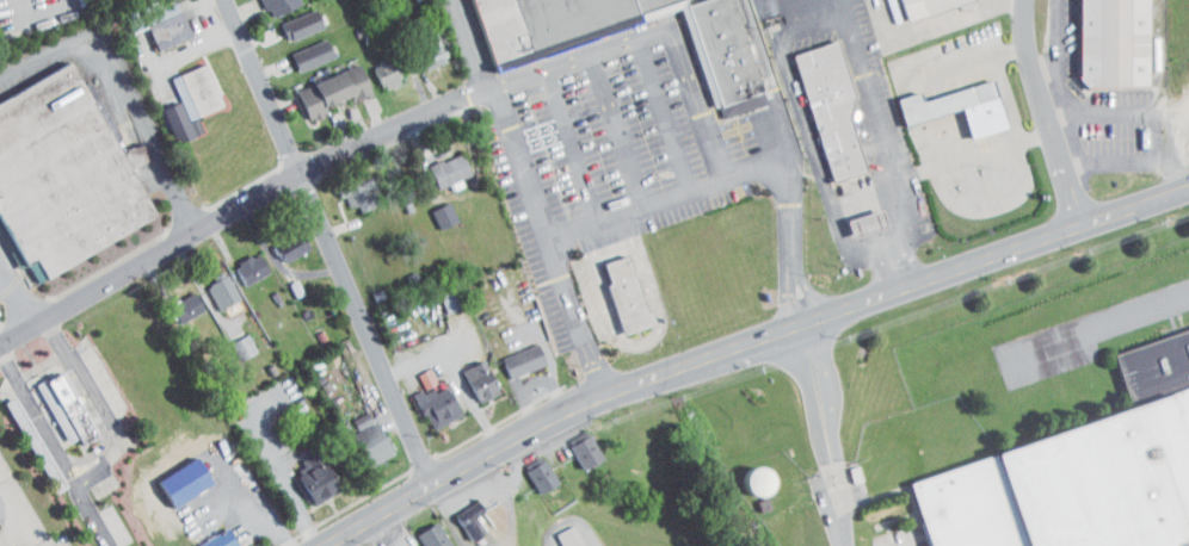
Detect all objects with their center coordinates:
building: (263, 2)
building: (653, 6)
building: (926, 6)
road: (25, 10)
building: (289, 17)
building: (153, 18)
building: (544, 24)
building: (419, 42)
building: (1116, 42)
road: (469, 44)
road: (1059, 45)
building: (298, 46)
building: (727, 49)
building: (374, 66)
building: (319, 82)
road: (123, 89)
road: (777, 89)
building: (177, 94)
road: (696, 97)
building: (947, 99)
building: (832, 106)
road: (665, 113)
road: (1115, 113)
road: (1046, 114)
road: (620, 129)
road: (808, 130)
road: (887, 142)
road: (574, 144)
road: (1172, 148)
parking lot: (590, 154)
building: (436, 162)
road: (1117, 162)
building: (66, 172)
building: (344, 185)
road: (651, 203)
building: (431, 207)
road: (228, 209)
building: (854, 216)
building: (868, 223)
gas station: (868, 223)
building: (279, 240)
road: (549, 241)
road: (333, 243)
building: (239, 261)
building: (209, 283)
building: (612, 286)
road: (5, 287)
building: (628, 294)
road: (17, 297)
building: (173, 299)
parking lot: (1, 304)
road: (1104, 327)
building: (230, 339)
road: (752, 341)
building: (511, 353)
road: (45, 366)
building: (413, 371)
building: (468, 373)
building: (107, 383)
building: (425, 398)
building: (53, 401)
road: (104, 404)
road: (91, 405)
building: (72, 408)
road: (39, 416)
building: (357, 434)
road: (827, 434)
building: (24, 438)
building: (36, 441)
building: (573, 443)
building: (529, 469)
building: (303, 470)
road: (281, 473)
building: (745, 473)
building: (1072, 484)
road: (255, 504)
road: (23, 507)
building: (460, 513)
road: (93, 515)
building: (421, 532)
building: (561, 533)
building: (204, 536)

